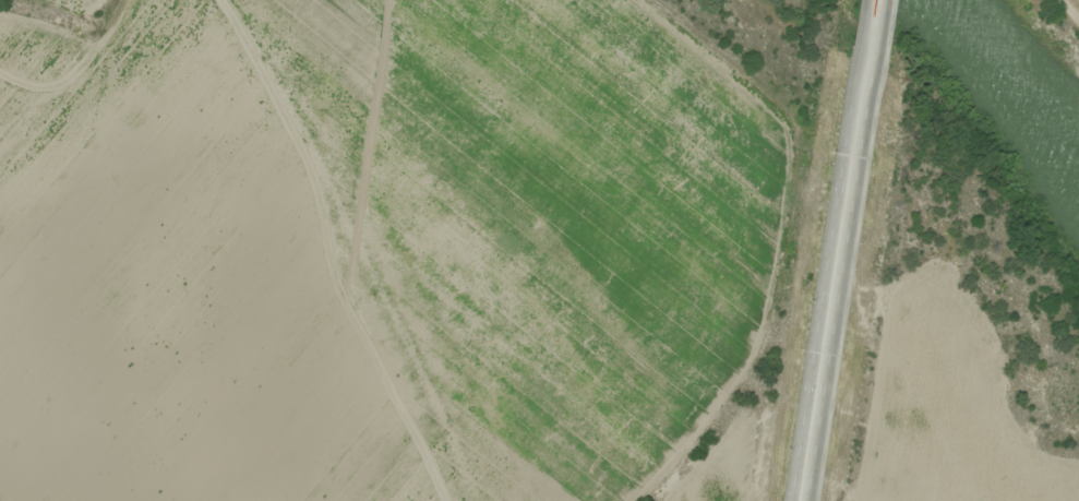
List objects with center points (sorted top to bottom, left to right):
road: (871, 19)
river: (1010, 90)
road: (832, 269)

